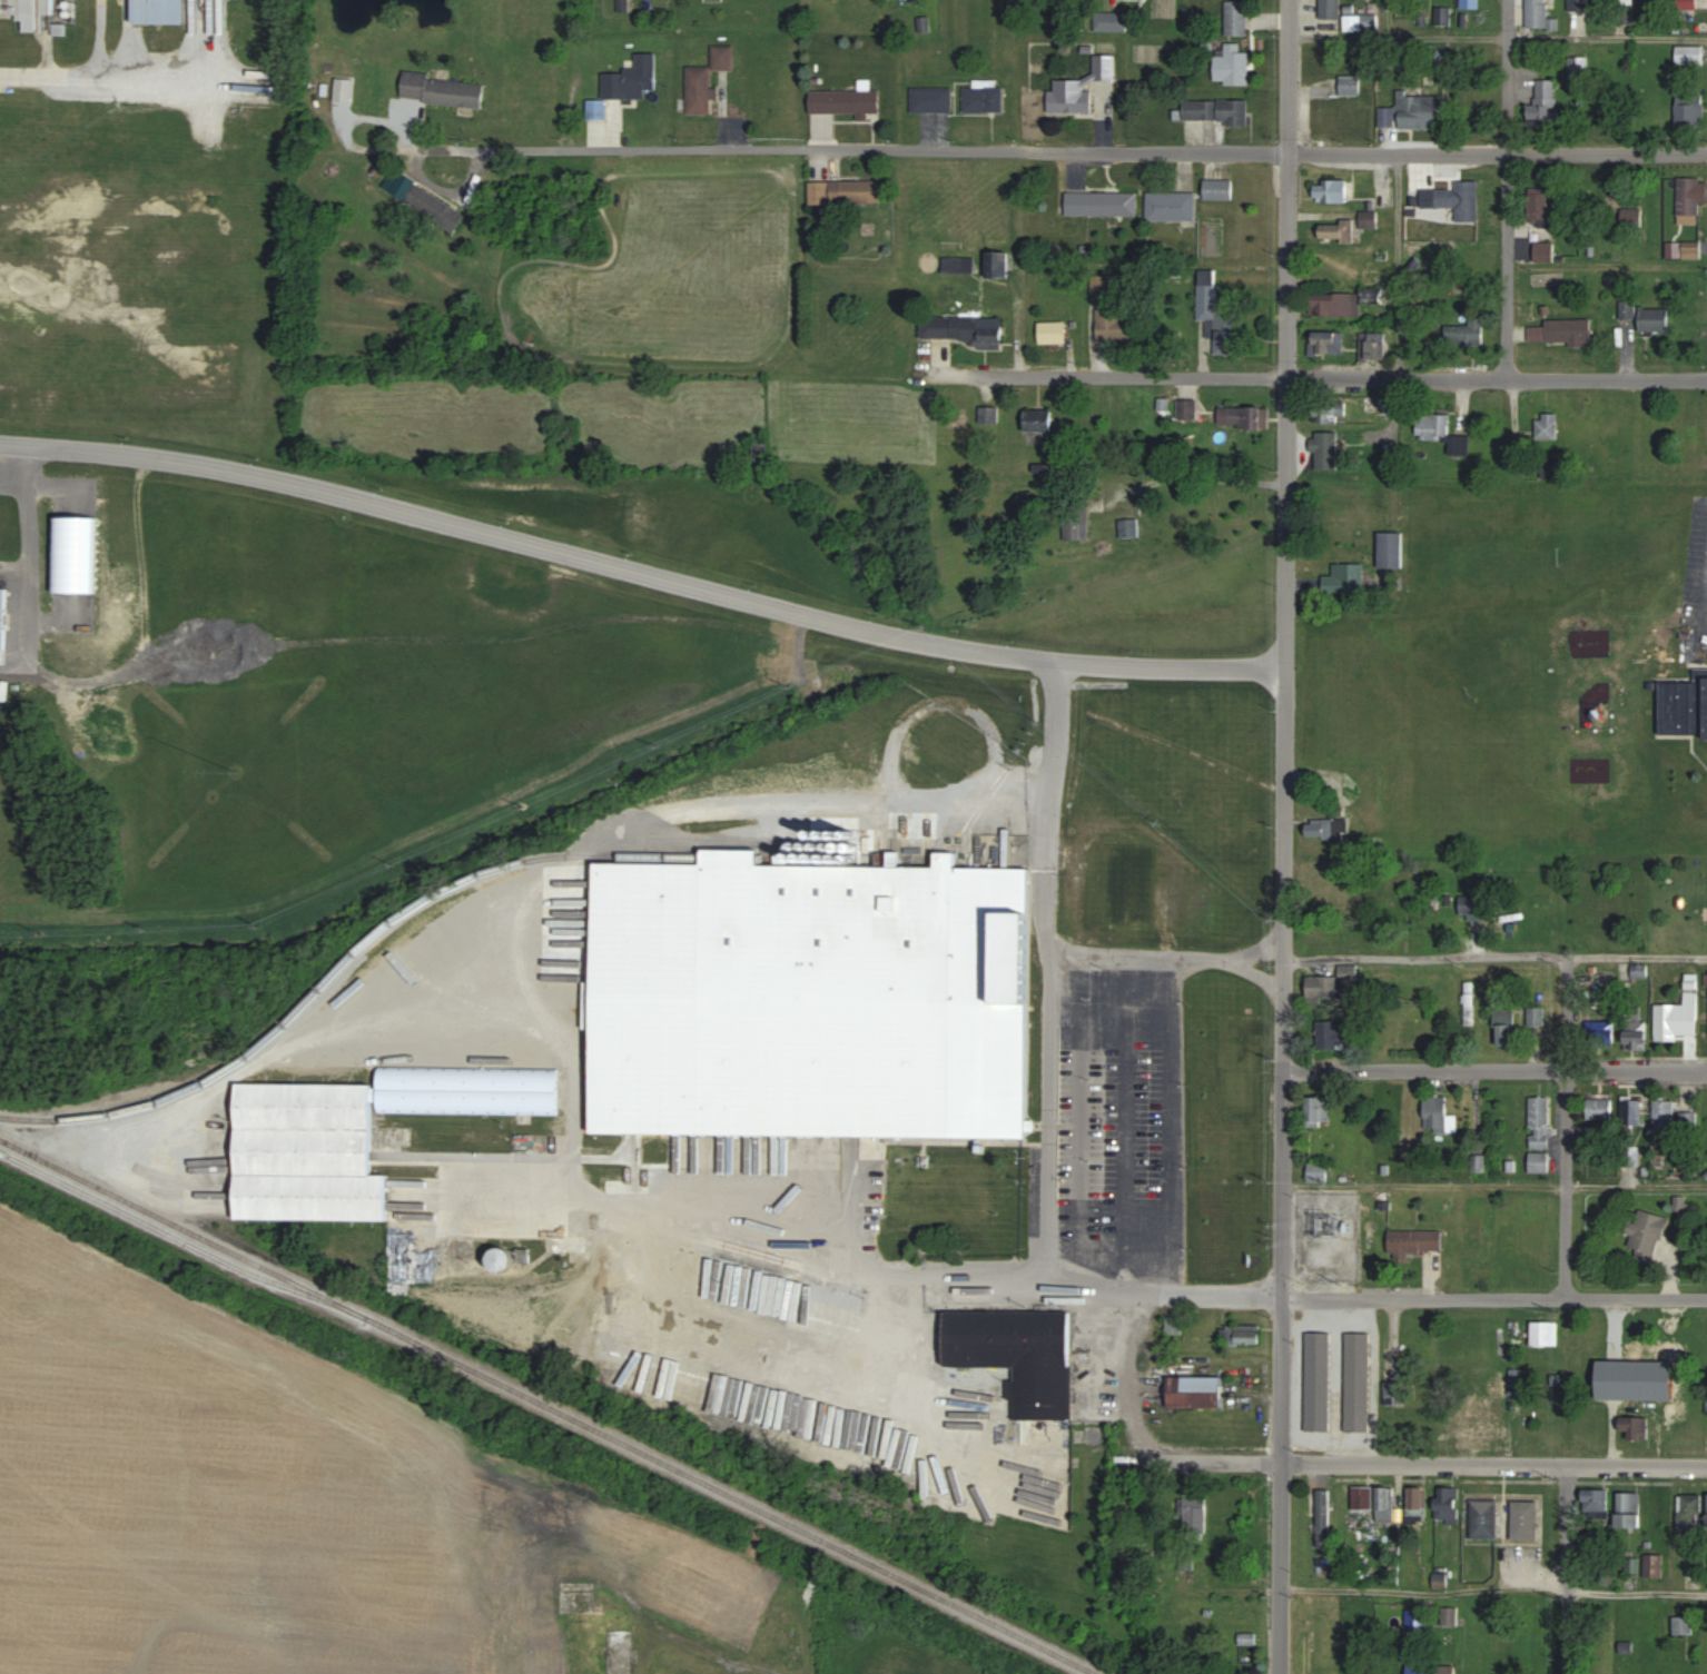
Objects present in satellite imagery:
building: (1471, 4)
building: (1688, 4)
building: (12, 9)
building: (1329, 9)
building: (160, 11)
building: (1538, 13)
building: (1236, 18)
building: (1112, 22)
road: (1497, 38)
building: (1690, 55)
building: (723, 58)
building: (1232, 66)
building: (1346, 76)
road: (103, 78)
building: (626, 83)
building: (1081, 87)
building: (443, 90)
building: (701, 91)
building: (985, 98)
building: (933, 100)
building: (846, 101)
building: (1545, 103)
building: (1690, 109)
building: (1215, 110)
building: (1415, 111)
building: (1338, 116)
road: (1070, 151)
road: (1510, 188)
building: (1218, 189)
building: (846, 191)
building: (1334, 191)
building: (1689, 196)
building: (1619, 199)
building: (1453, 201)
building: (1102, 202)
building: (1171, 206)
building: (1541, 206)
building: (434, 208)
building: (1339, 230)
building: (1545, 251)
building: (997, 264)
road: (1397, 266)
building: (1348, 303)
building: (1220, 317)
building: (1655, 319)
building: (1109, 325)
building: (965, 329)
building: (1053, 331)
building: (1569, 331)
building: (1467, 333)
building: (1328, 343)
building: (1377, 347)
road: (1322, 376)
building: (1335, 412)
building: (1249, 417)
building: (1040, 420)
building: (1547, 427)
building: (1440, 430)
building: (1326, 450)
road: (14, 464)
road: (1200, 479)
building: (1128, 527)
building: (1074, 533)
building: (1391, 551)
road: (641, 571)
building: (1345, 580)
building: (3, 616)
building: (1684, 705)
road: (1047, 805)
building: (1321, 829)
road: (1282, 836)
road: (529, 921)
building: (1333, 938)
railway: (366, 939)
building: (1373, 940)
road: (1637, 957)
road: (1425, 958)
building: (1322, 989)
building: (811, 999)
building: (1470, 1003)
building: (1537, 1017)
building: (1678, 1021)
building: (1507, 1024)
building: (1600, 1030)
building: (1637, 1034)
building: (1336, 1036)
road: (1497, 1069)
road: (1046, 1079)
building: (1239, 1088)
building: (1599, 1109)
building: (1321, 1111)
building: (1631, 1112)
building: (1438, 1115)
building: (1540, 1122)
building: (1688, 1122)
building: (1666, 1123)
road: (1567, 1126)
road: (1128, 1132)
building: (307, 1153)
building: (1539, 1162)
building: (1319, 1172)
road: (1496, 1186)
building: (935, 1197)
building: (1646, 1235)
power substation: (1326, 1237)
railway: (182, 1240)
building: (1413, 1242)
building: (502, 1260)
road: (1233, 1296)
building: (1241, 1334)
building: (1546, 1335)
building: (1018, 1355)
road: (1335, 1379)
road: (1374, 1379)
building: (1315, 1384)
building: (1355, 1384)
building: (1618, 1388)
building: (1195, 1391)
building: (1395, 1394)
railway: (549, 1406)
building: (1476, 1424)
building: (1636, 1426)
road: (1418, 1463)
road: (1128, 1496)
building: (1363, 1498)
building: (1596, 1504)
building: (1385, 1505)
building: (1418, 1505)
building: (1448, 1505)
building: (1630, 1510)
building: (1690, 1510)
building: (1195, 1514)
building: (1319, 1517)
building: (1484, 1519)
building: (1526, 1521)
road: (1567, 1568)
road: (1493, 1592)
building: (1414, 1622)
building: (1684, 1626)
building: (1247, 1638)
road: (694, 1644)
building: (1447, 1670)
building: (1354, 1671)

